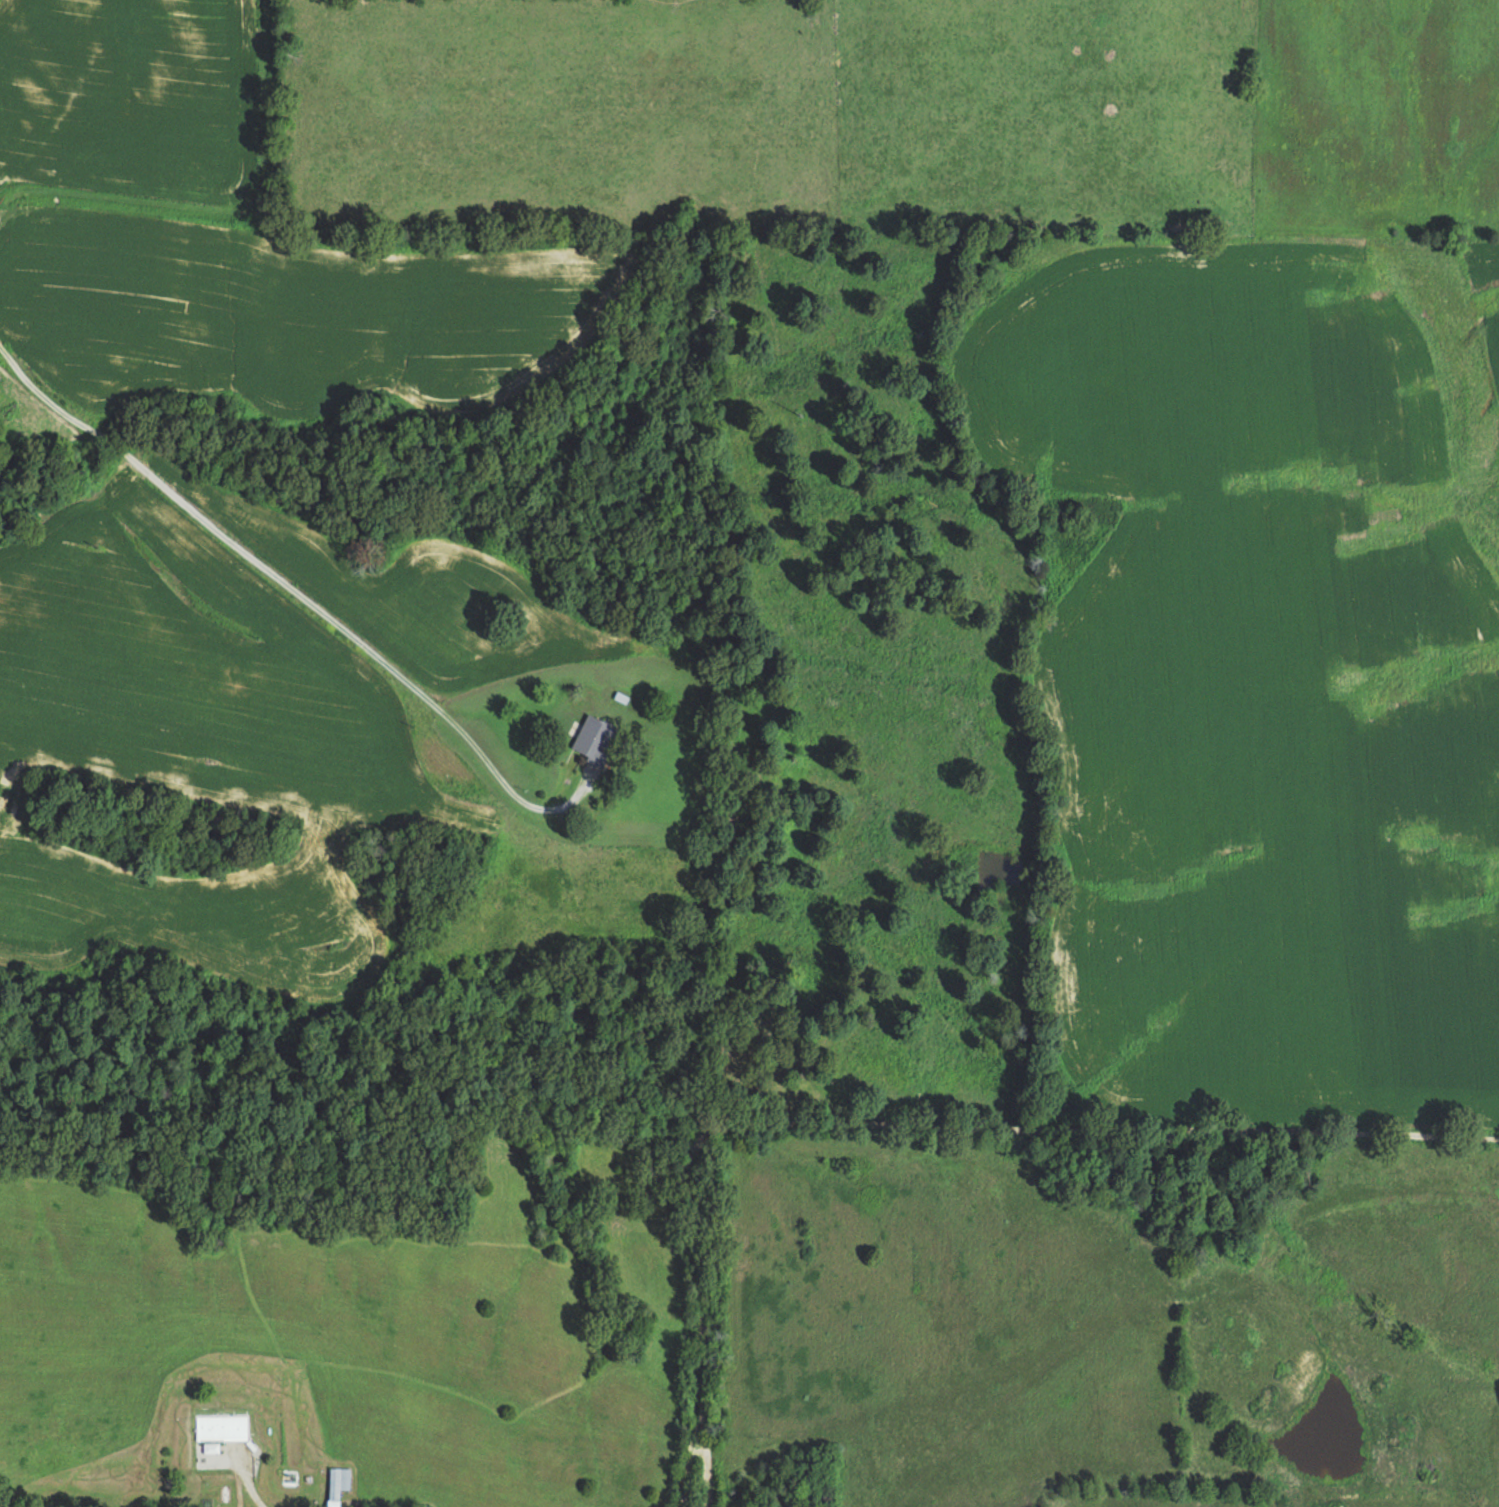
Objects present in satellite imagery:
building: (590, 736)
road: (1086, 1149)
road: (343, 1176)
road: (685, 1344)
building: (221, 1426)
building: (334, 1484)

